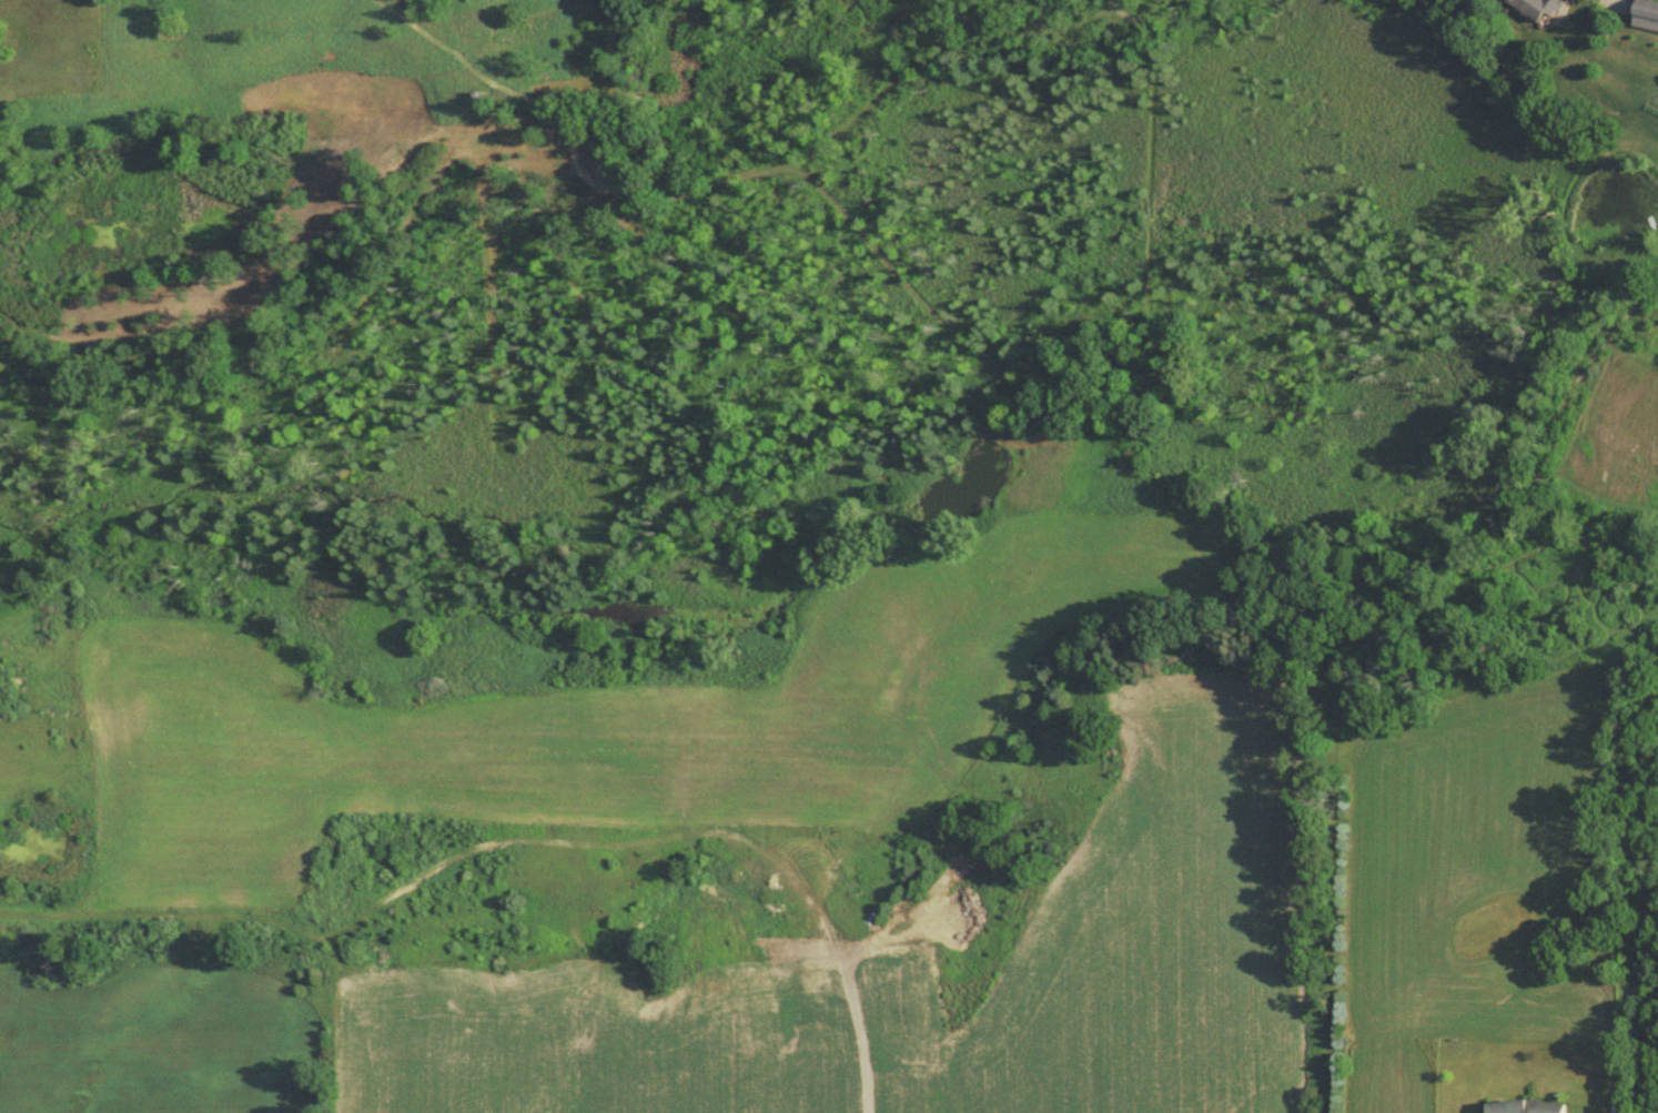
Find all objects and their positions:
building: (1538, 8)
building: (1647, 18)
building: (1524, 1107)

